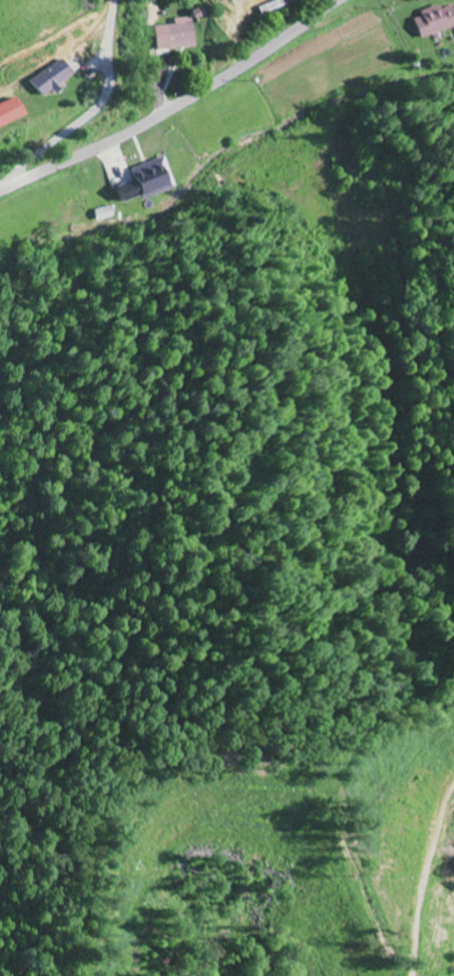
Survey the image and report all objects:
building: (434, 21)
building: (175, 35)
building: (49, 78)
road: (178, 107)
building: (8, 111)
road: (88, 112)
building: (145, 182)
building: (105, 214)

